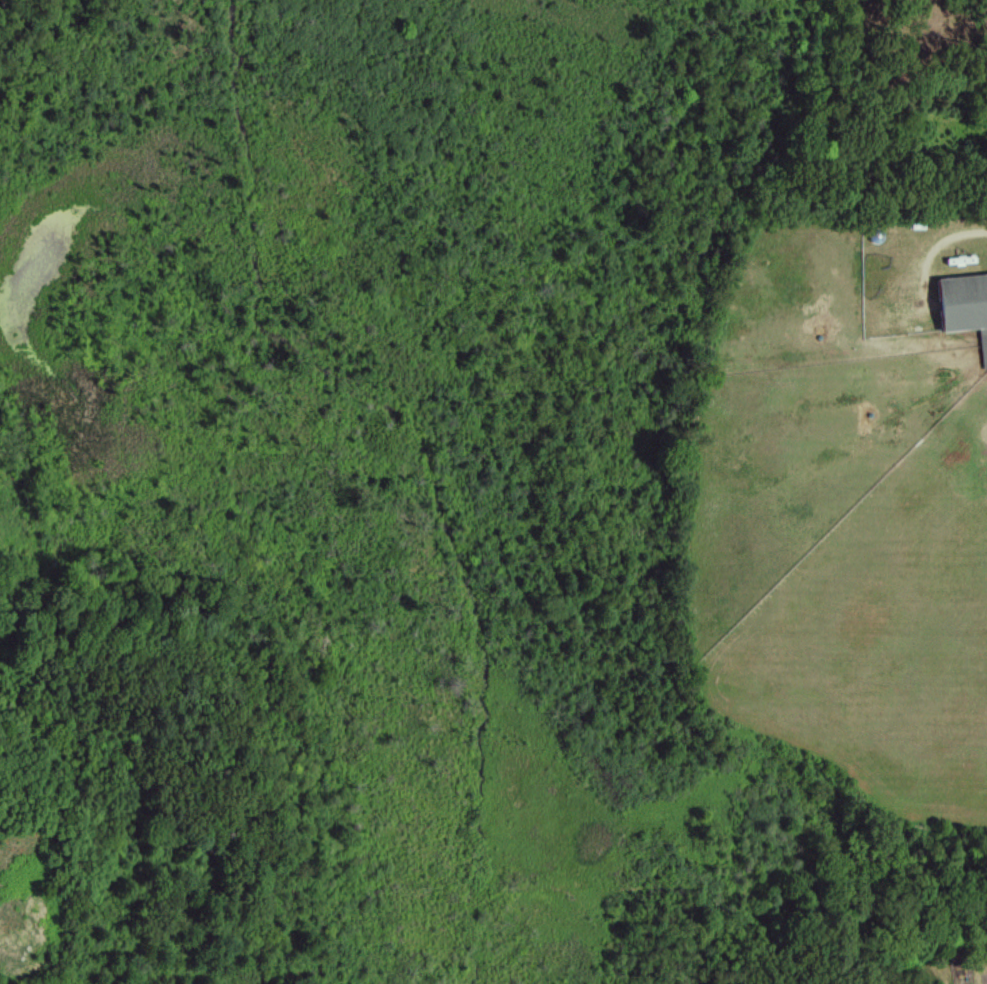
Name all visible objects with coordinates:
road: (933, 248)
building: (964, 307)

